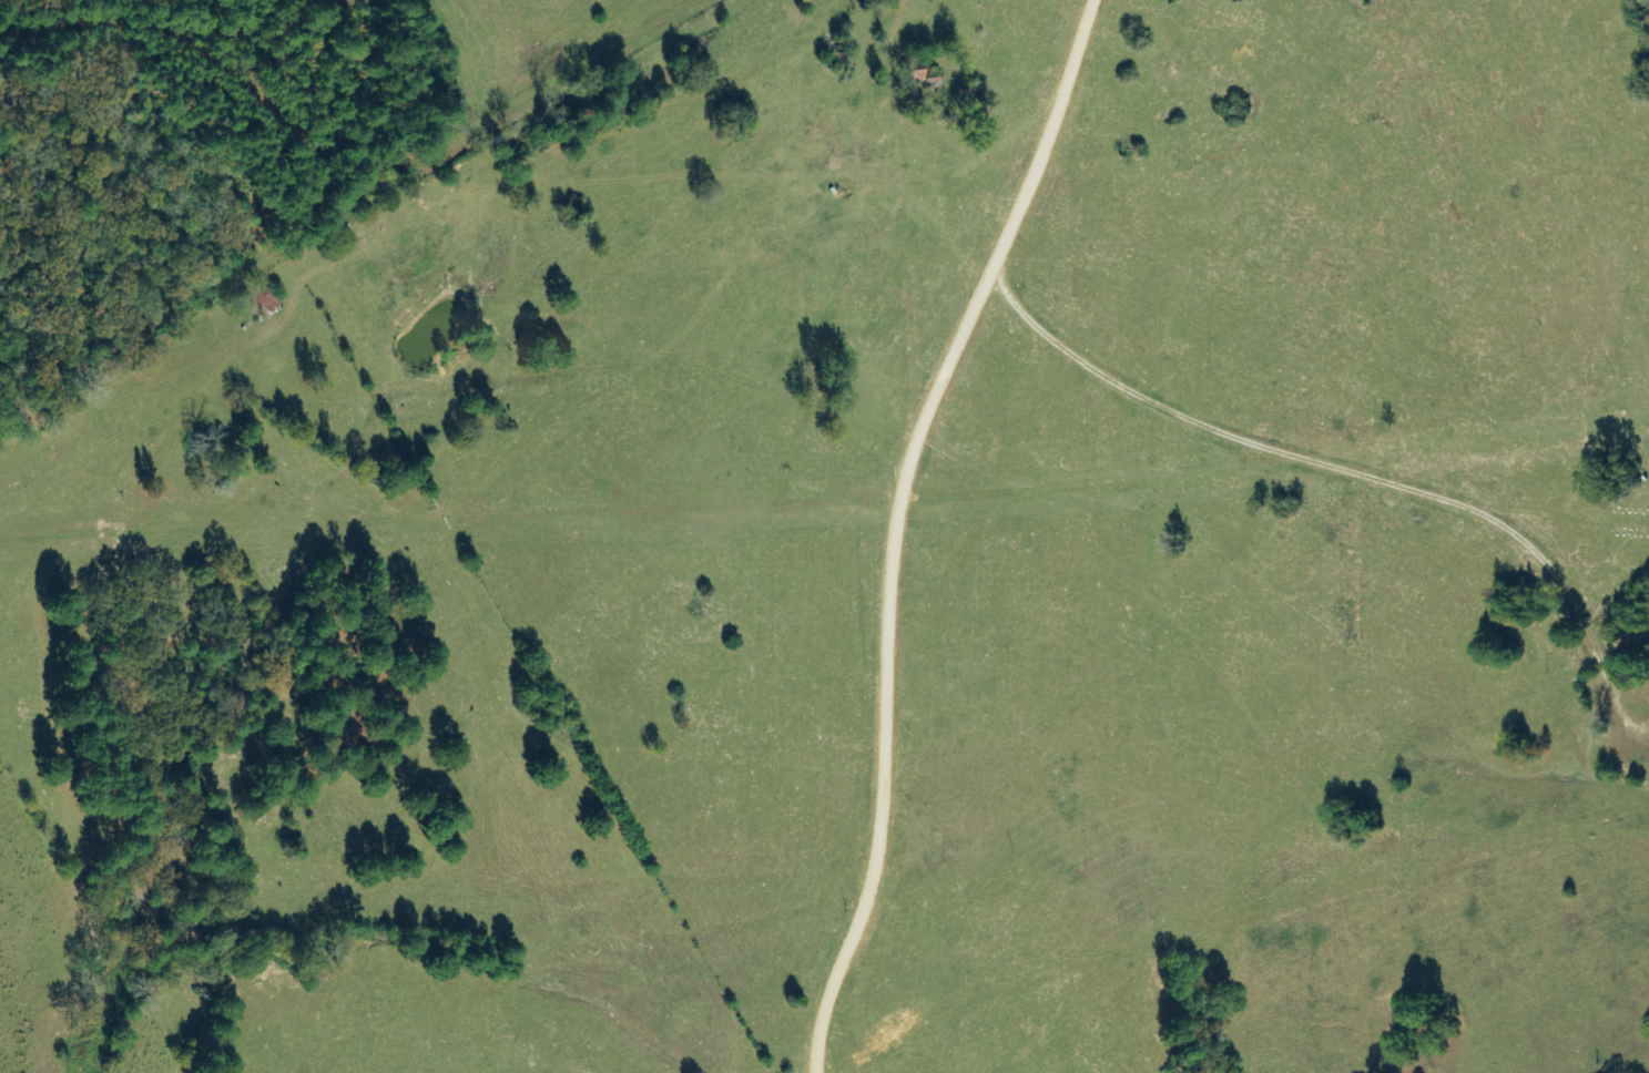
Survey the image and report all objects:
road: (1039, 174)
road: (899, 182)
road: (915, 712)

